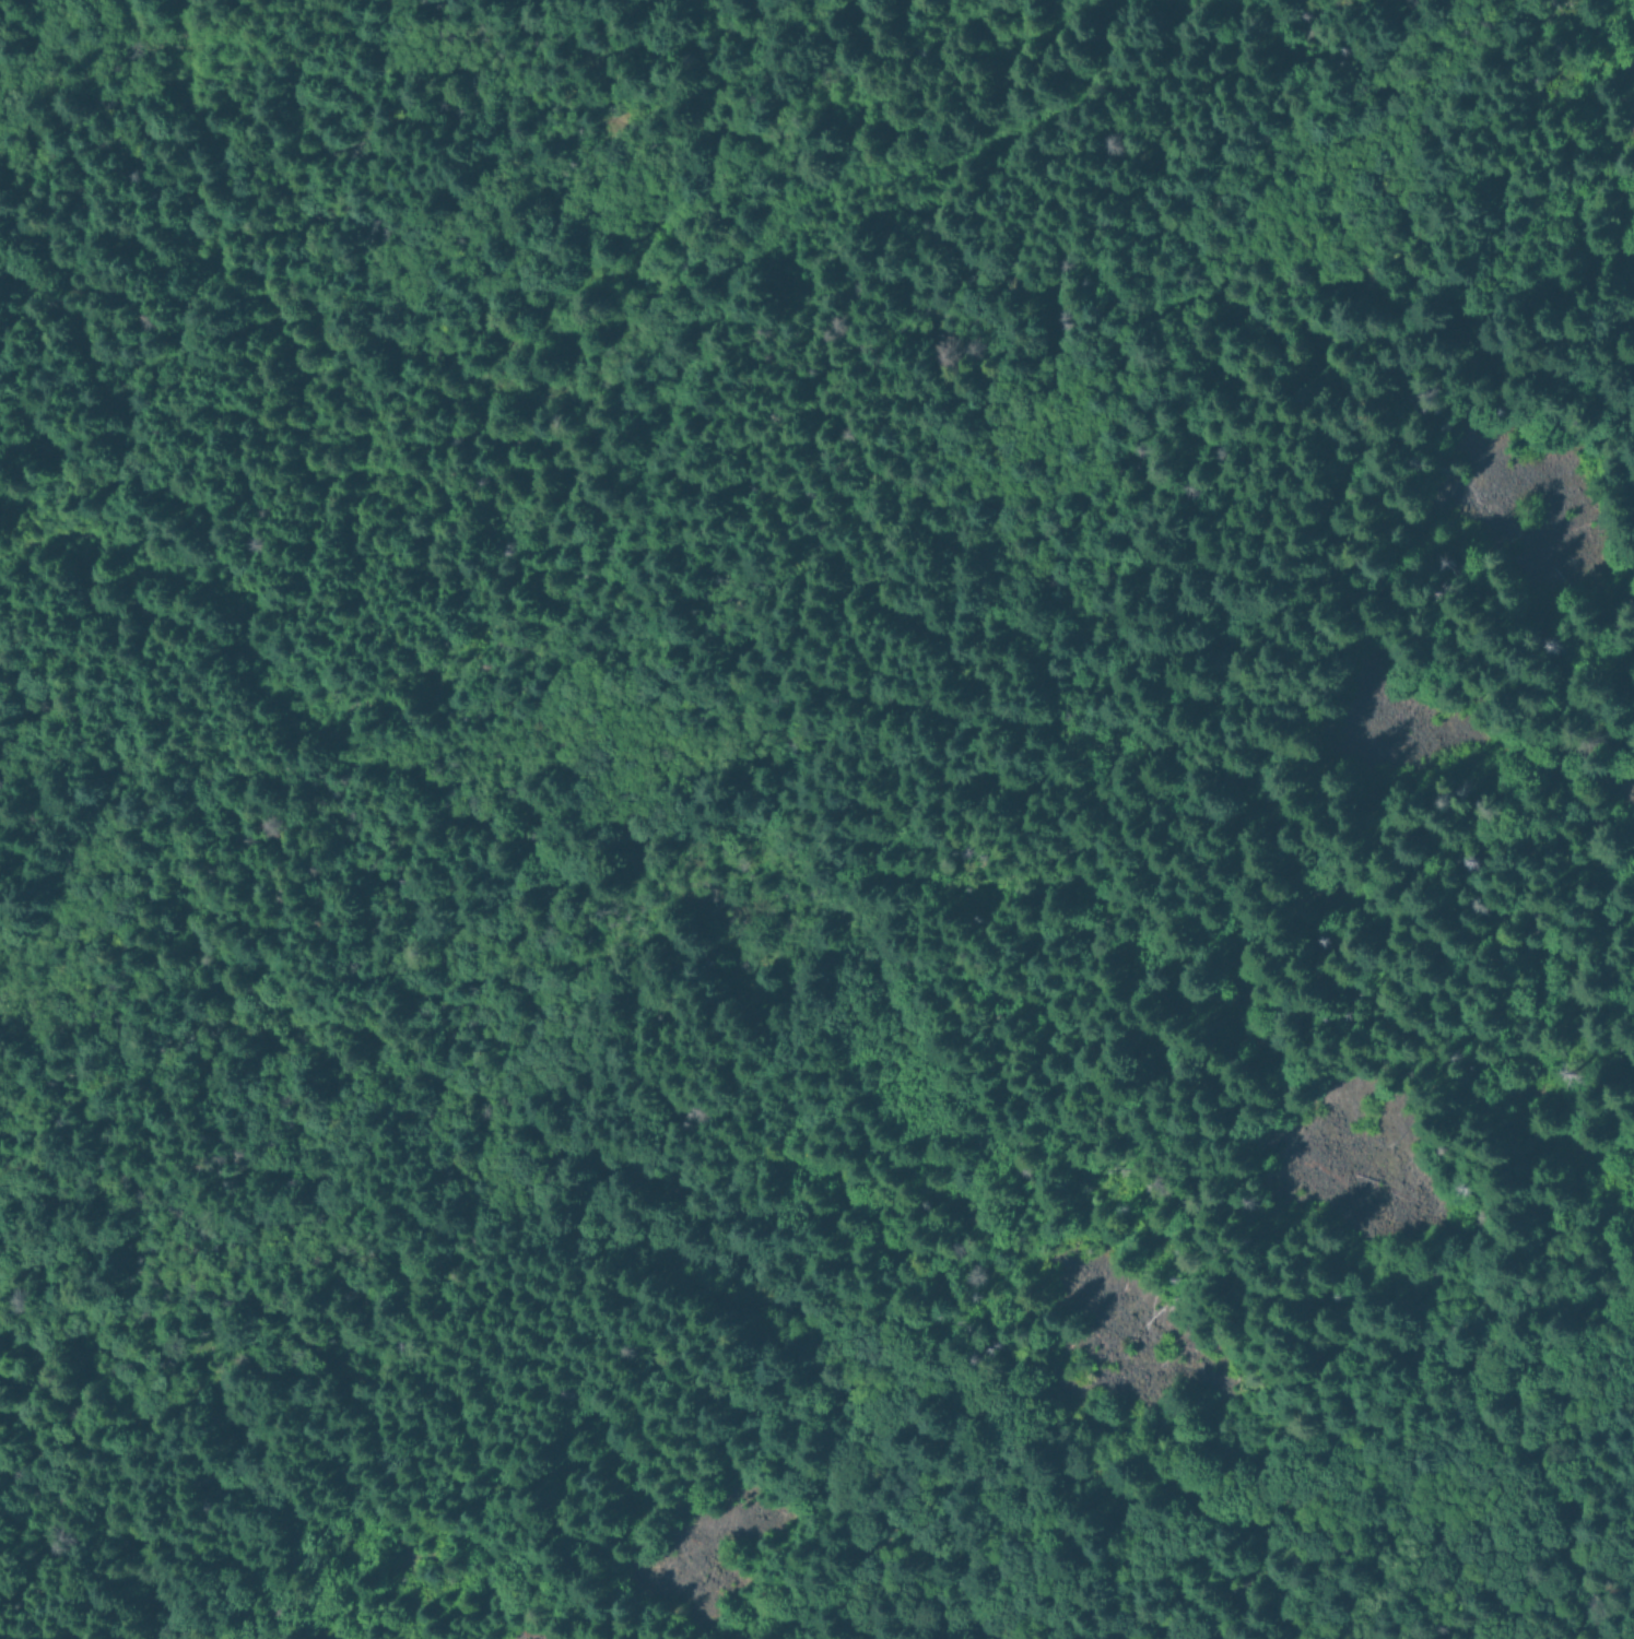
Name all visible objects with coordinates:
road: (584, 33)
road: (581, 499)

